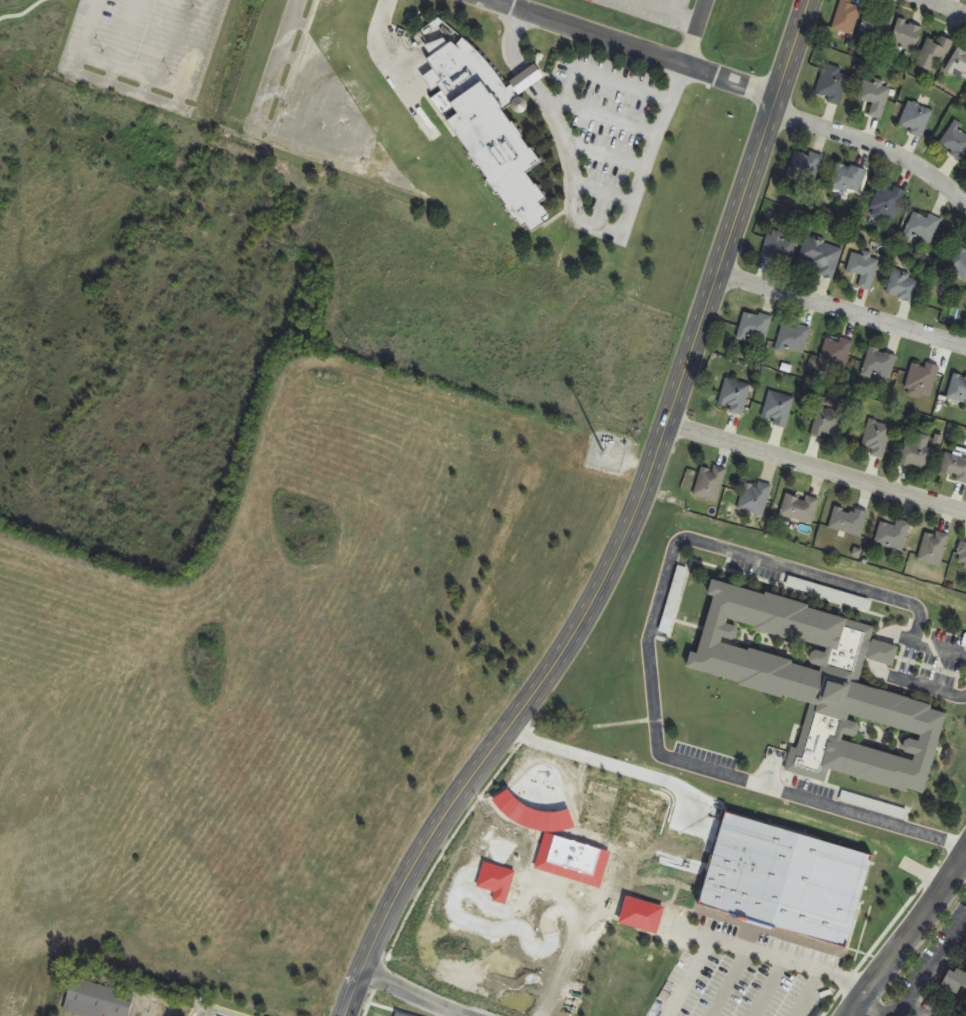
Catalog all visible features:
road: (498, 0)
road: (947, 8)
parking lot: (651, 10)
road: (675, 11)
road: (23, 13)
building: (847, 16)
building: (877, 22)
road: (705, 32)
building: (907, 35)
road: (125, 43)
parking lot: (143, 48)
road: (160, 48)
road: (641, 48)
building: (934, 53)
road: (195, 54)
building: (958, 63)
road: (277, 64)
road: (392, 70)
road: (92, 79)
road: (607, 79)
building: (833, 84)
building: (875, 97)
road: (603, 115)
building: (916, 118)
parking lot: (605, 123)
building: (491, 125)
building: (955, 141)
road: (881, 146)
road: (607, 154)
building: (805, 166)
building: (848, 178)
road: (604, 192)
building: (887, 202)
road: (580, 219)
building: (922, 228)
building: (780, 247)
building: (821, 257)
building: (959, 263)
building: (864, 269)
building: (904, 286)
road: (846, 311)
building: (754, 327)
building: (793, 338)
building: (835, 355)
building: (880, 365)
building: (922, 379)
building: (958, 388)
building: (734, 396)
building: (779, 408)
building: (828, 424)
building: (877, 438)
building: (917, 455)
building: (954, 467)
road: (821, 469)
building: (710, 484)
building: (755, 498)
building: (800, 508)
building: (848, 521)
road: (633, 534)
building: (893, 535)
building: (934, 548)
building: (962, 554)
road: (650, 637)
building: (875, 805)
road: (670, 925)
road: (907, 934)
road: (744, 948)
road: (929, 971)
road: (723, 981)
building: (955, 985)
road: (764, 987)
road: (804, 993)
road: (412, 994)
building: (98, 1000)
road: (869, 1007)
road: (214, 1011)

